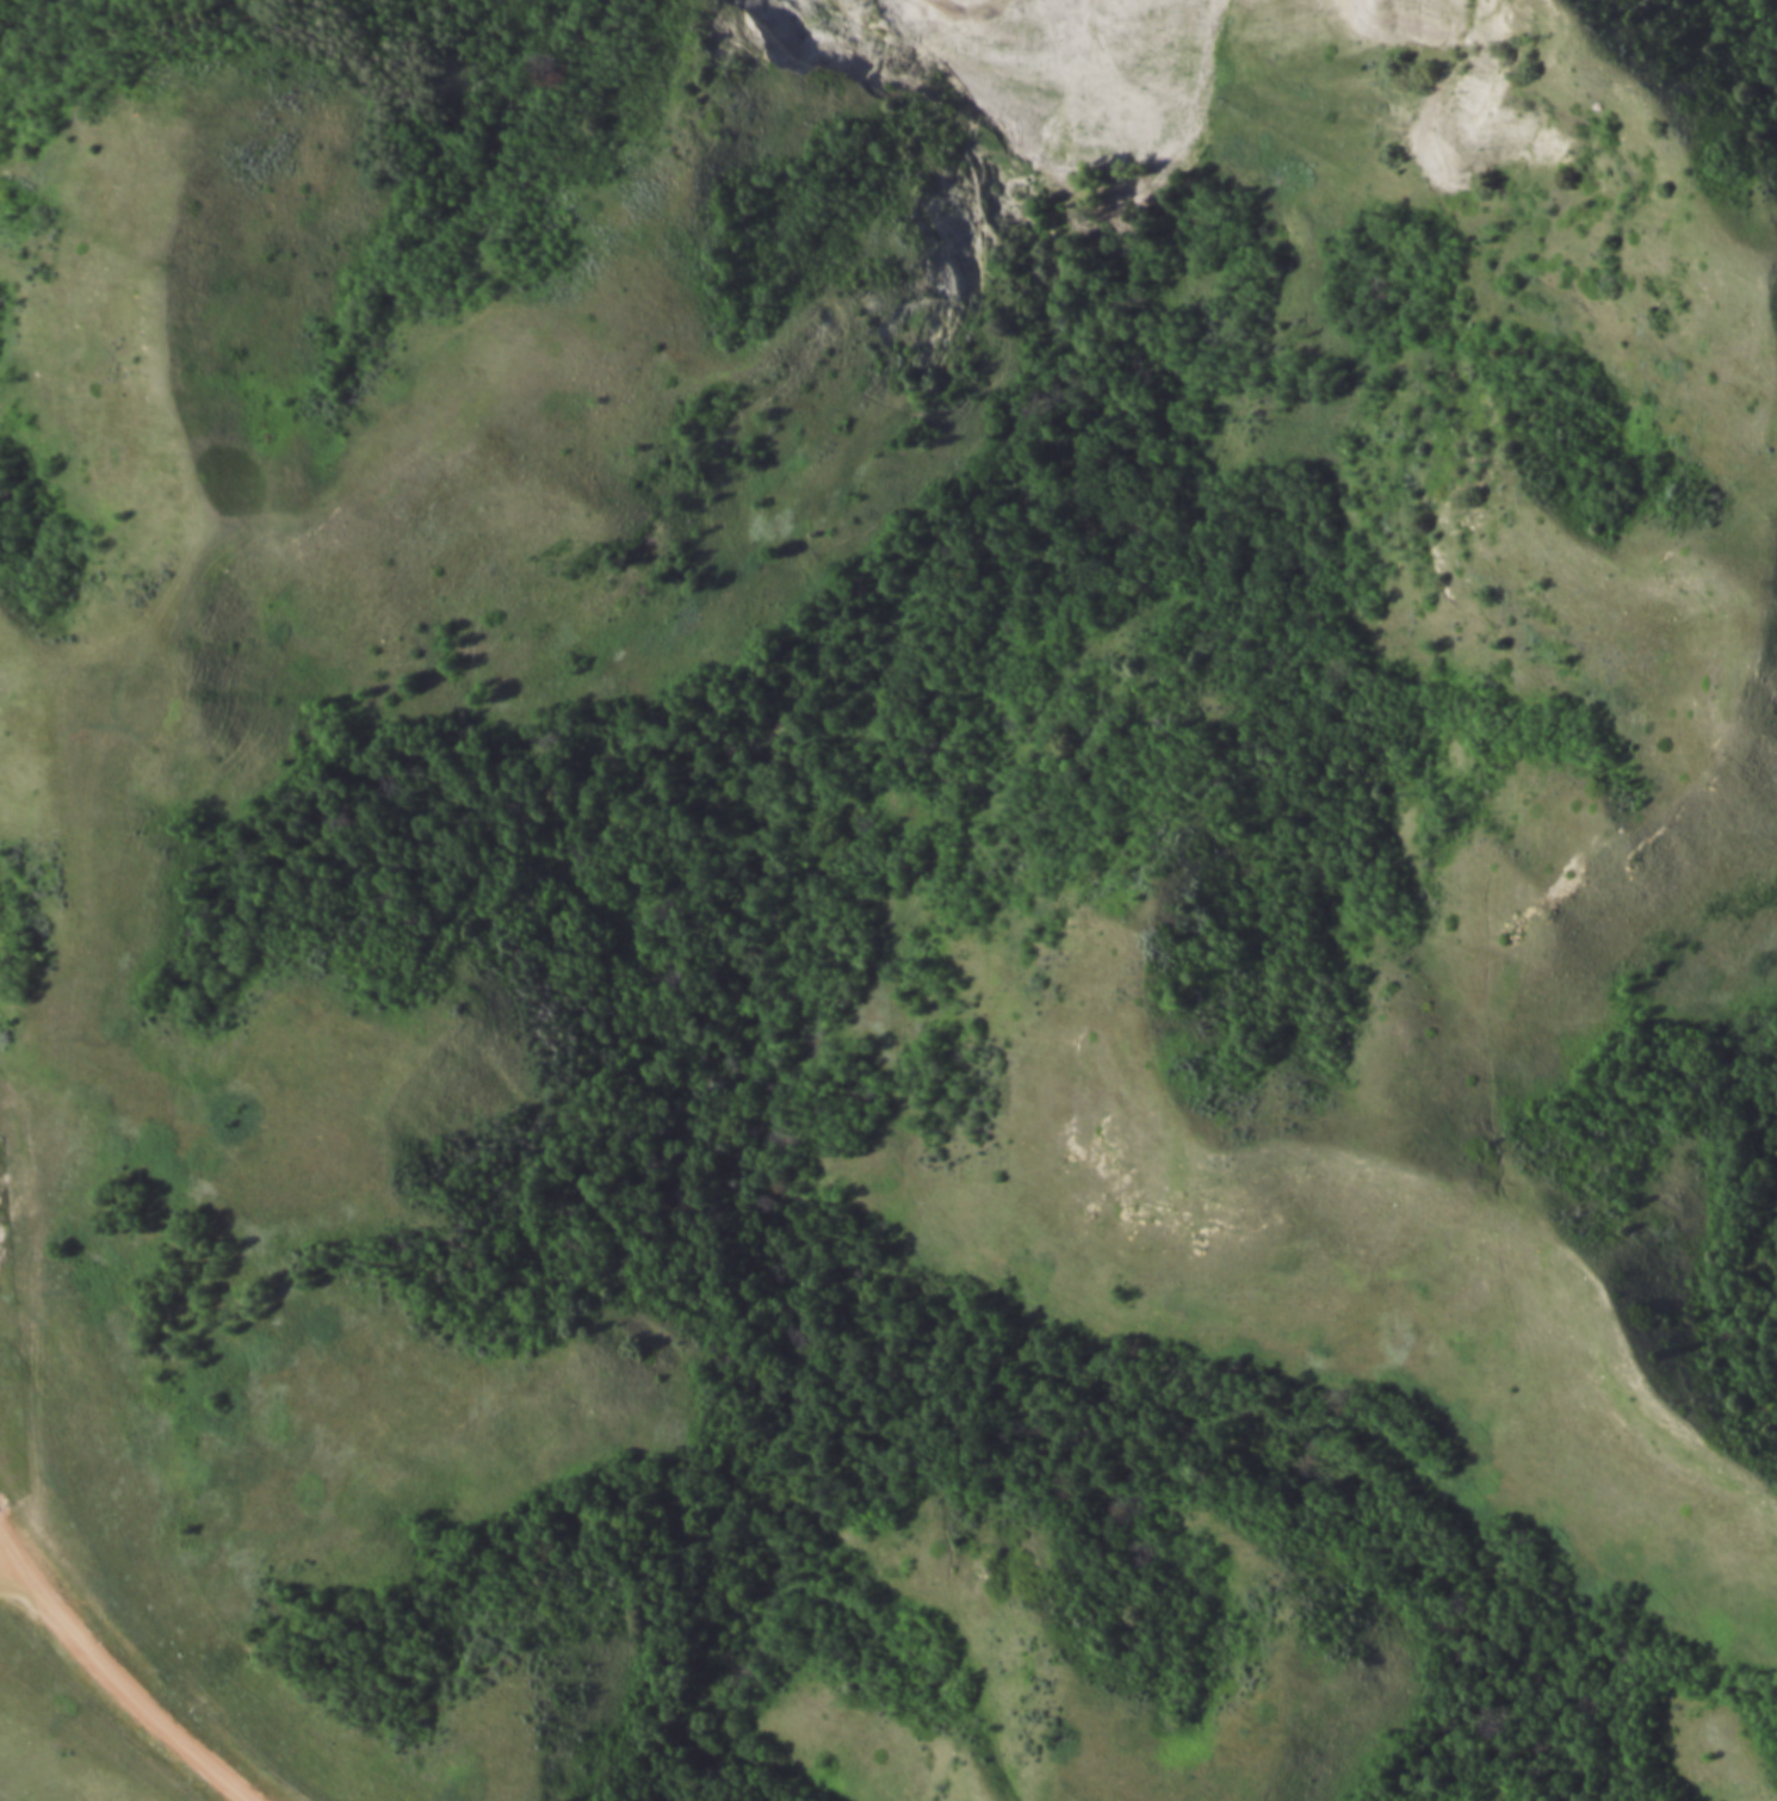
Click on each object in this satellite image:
road: (141, 1689)

